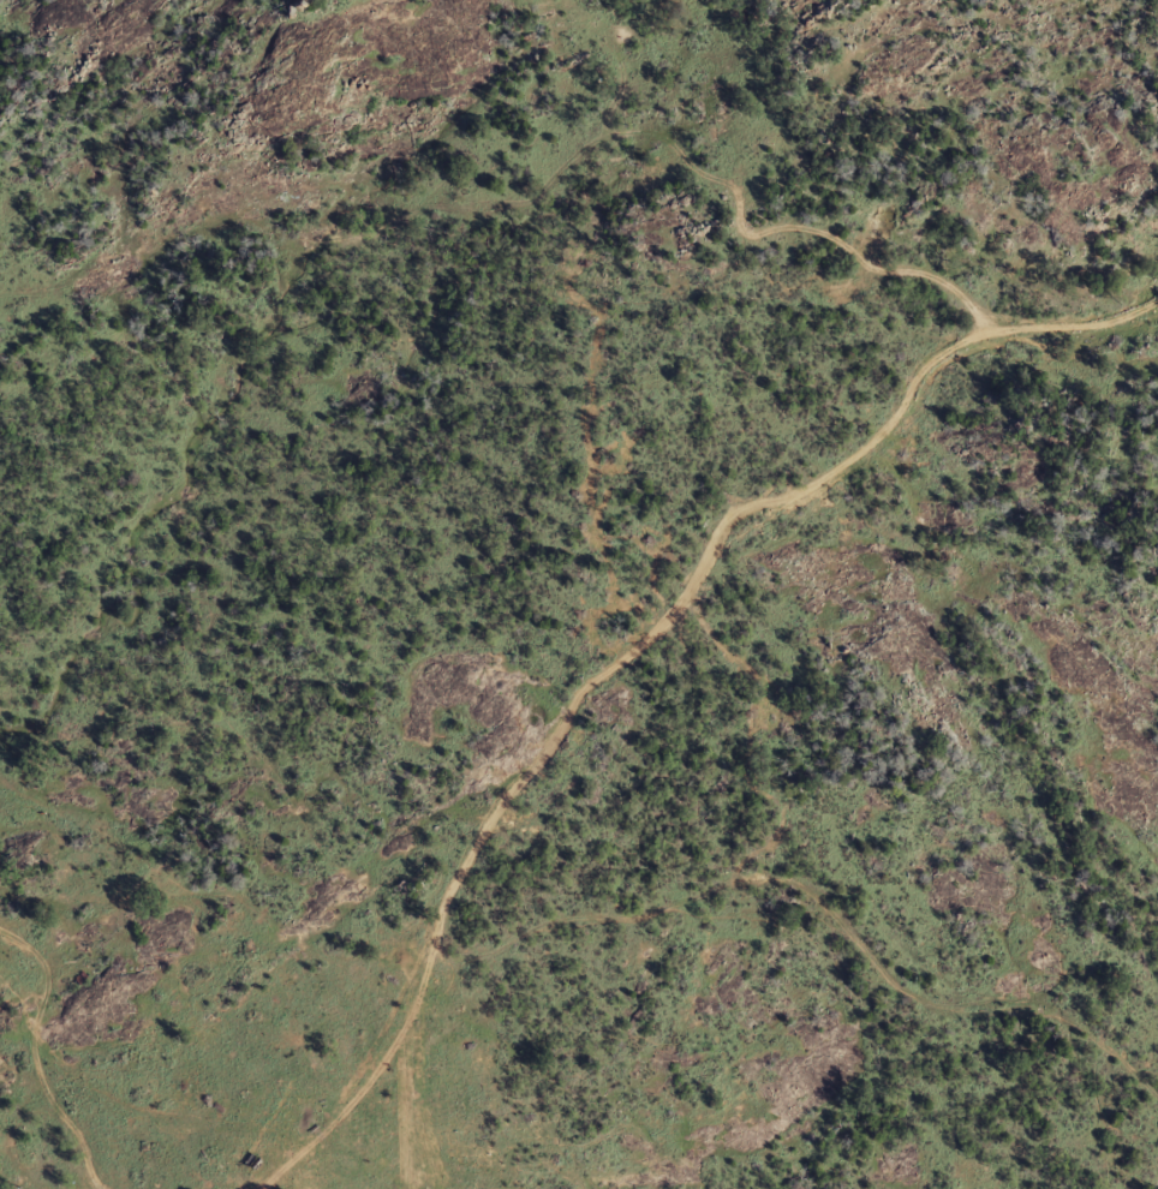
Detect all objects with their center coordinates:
road: (1044, 323)
road: (556, 739)
road: (42, 1058)

